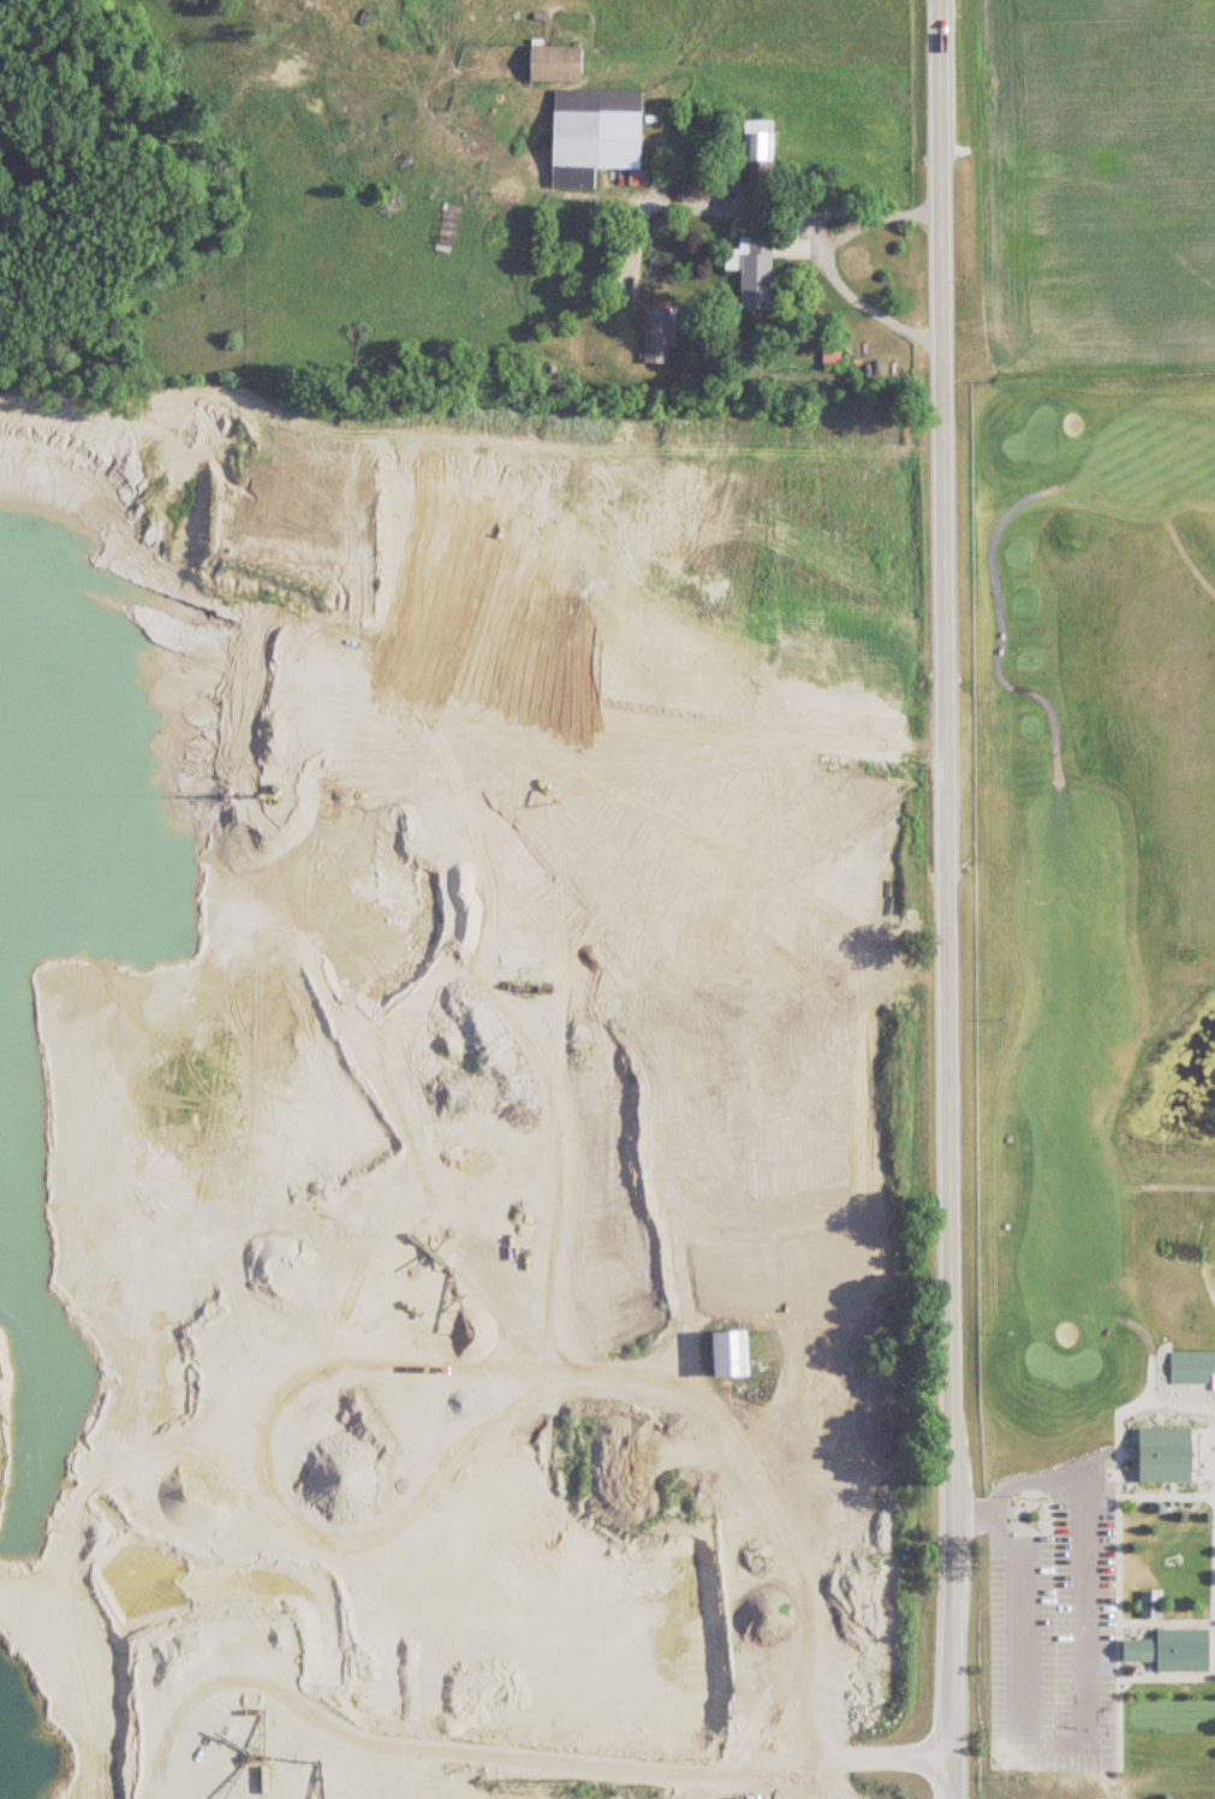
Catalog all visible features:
building: (556, 64)
building: (596, 135)
building: (760, 141)
building: (698, 183)
road: (770, 207)
building: (852, 263)
building: (754, 271)
road: (854, 297)
building: (659, 334)
building: (832, 358)
road: (945, 898)
building: (732, 1356)
building: (1163, 1455)
road: (1086, 1525)
building: (1151, 1604)
parking lot: (1050, 1631)
building: (1174, 1652)
road: (711, 1775)

